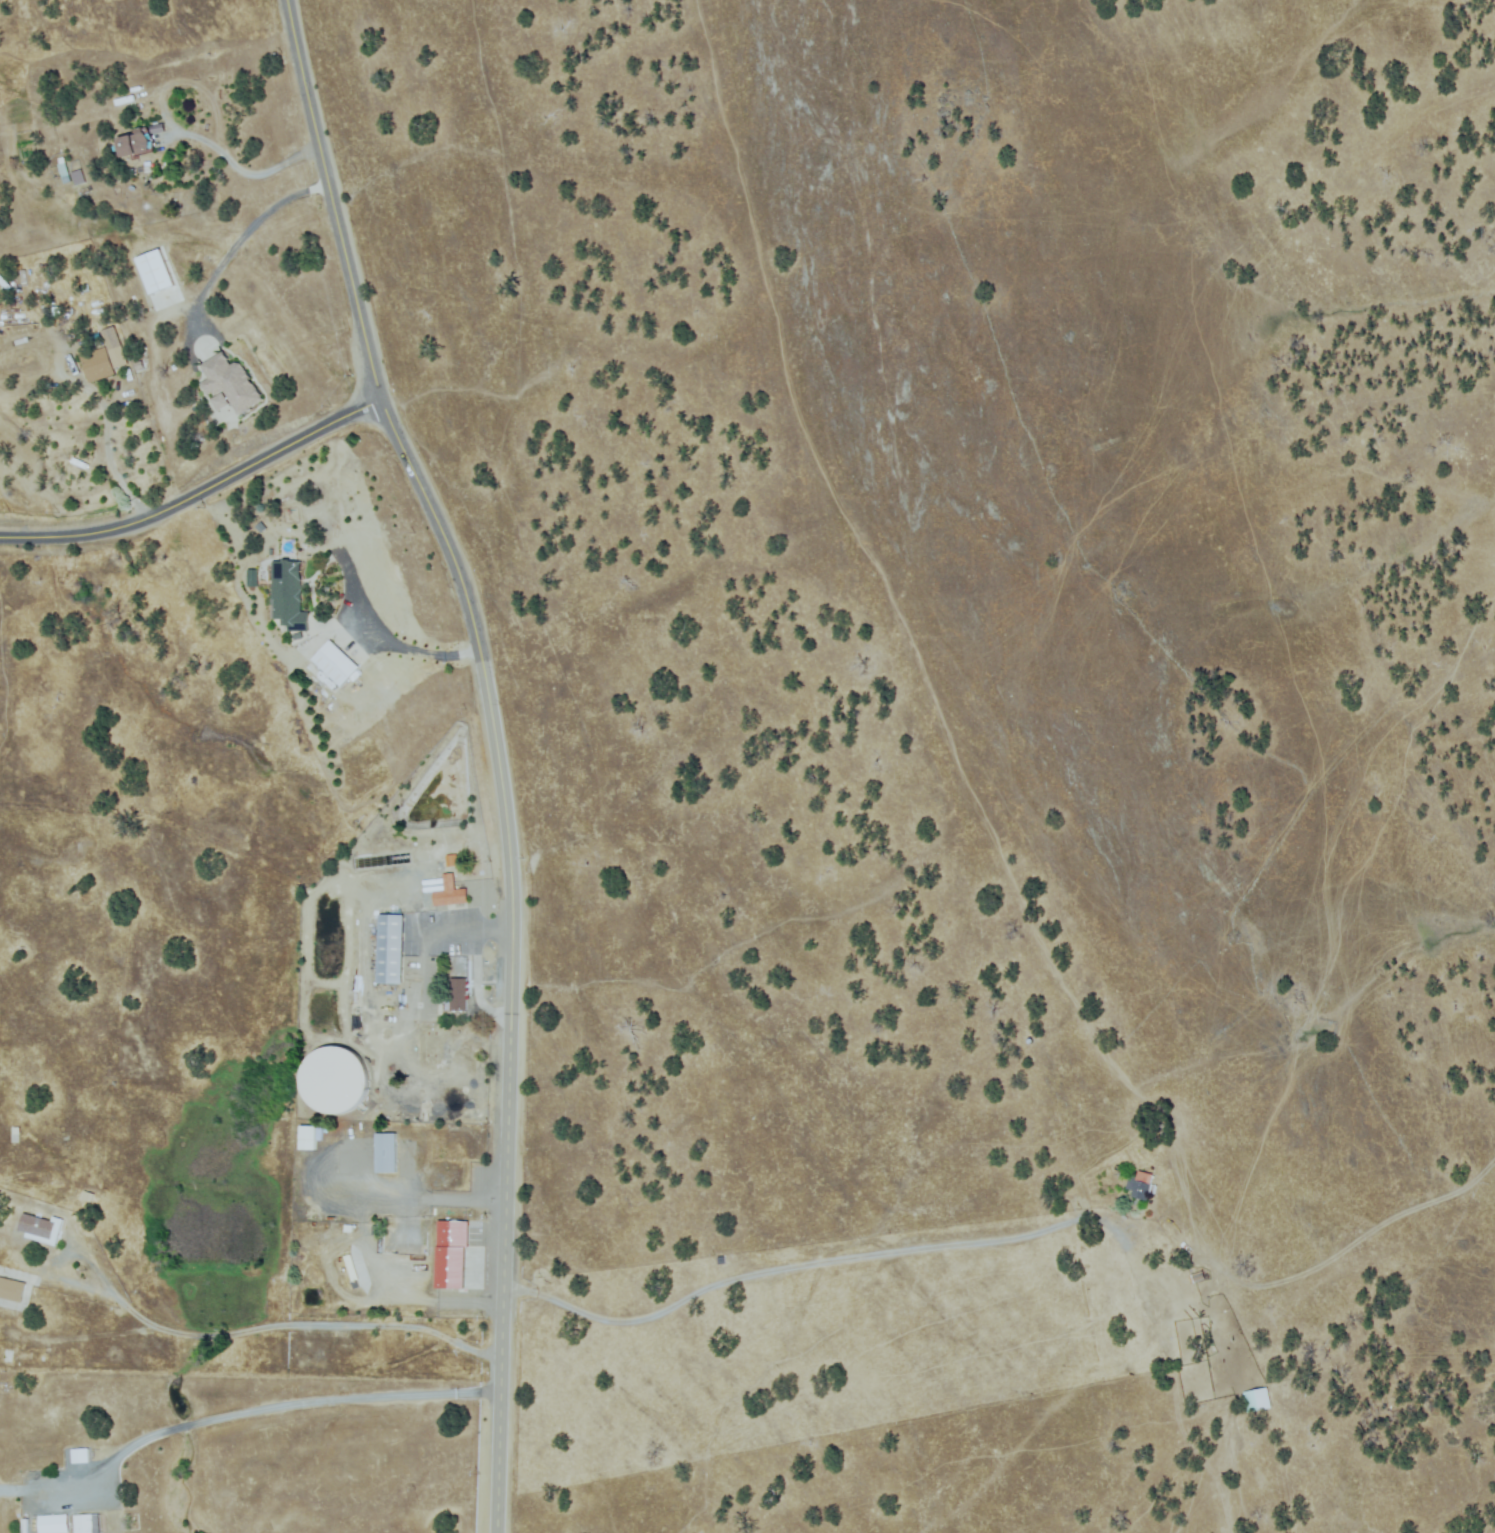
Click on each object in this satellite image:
building: (156, 129)
building: (137, 143)
building: (163, 149)
building: (63, 170)
building: (78, 177)
building: (125, 181)
building: (23, 279)
building: (4, 284)
building: (84, 289)
building: (57, 311)
building: (94, 338)
road: (360, 345)
building: (114, 348)
building: (73, 364)
building: (96, 365)
building: (138, 366)
building: (128, 375)
building: (230, 383)
building: (218, 402)
road: (193, 494)
building: (249, 578)
building: (289, 596)
building: (336, 664)
building: (451, 861)
building: (434, 881)
building: (434, 890)
building: (449, 894)
building: (486, 894)
building: (389, 949)
building: (458, 989)
storage tank: (335, 1080)
building: (332, 1081)
road: (500, 1105)
building: (16, 1130)
building: (307, 1139)
building: (386, 1153)
building: (1139, 1185)
building: (89, 1198)
building: (39, 1229)
road: (1023, 1235)
building: (449, 1236)
building: (350, 1267)
building: (447, 1270)
building: (1198, 1278)
building: (11, 1290)
building: (0, 1385)
building: (1257, 1400)
building: (87, 1524)
building: (53, 1525)
building: (26, 1526)

